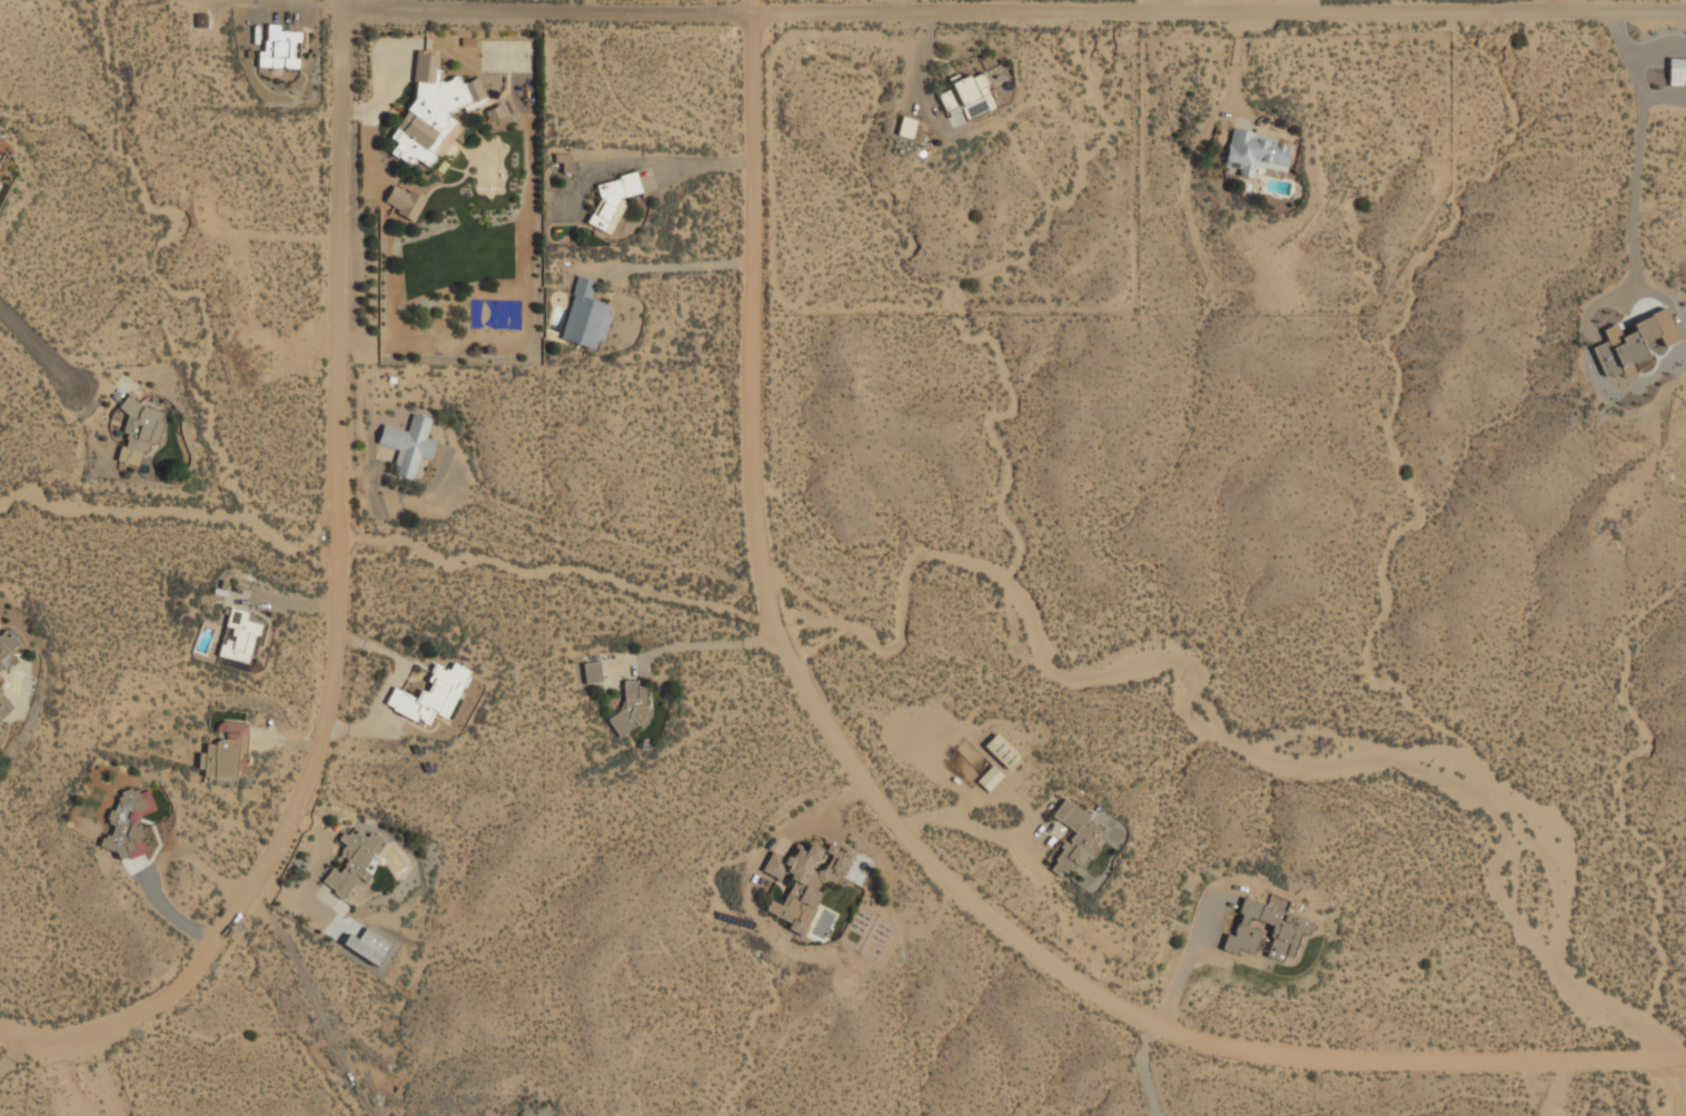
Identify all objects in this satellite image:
road: (1566, 6)
road: (1169, 10)
road: (1016, 19)
building: (200, 21)
building: (279, 49)
building: (1677, 72)
building: (970, 88)
building: (945, 100)
building: (432, 112)
building: (494, 115)
building: (906, 127)
building: (1256, 154)
road: (1635, 158)
road: (661, 161)
building: (567, 164)
building: (612, 200)
building: (404, 203)
road: (678, 265)
building: (585, 316)
building: (1633, 345)
road: (44, 353)
building: (139, 432)
building: (408, 445)
road: (344, 613)
building: (239, 638)
building: (7, 649)
building: (592, 673)
building: (432, 695)
building: (4, 707)
building: (632, 709)
building: (1, 734)
building: (226, 753)
building: (990, 779)
road: (897, 823)
building: (127, 824)
building: (1075, 839)
building: (351, 861)
road: (153, 863)
building: (802, 886)
building: (1292, 932)
building: (367, 946)
road: (314, 1006)
road: (12, 1056)
road: (1151, 1070)

